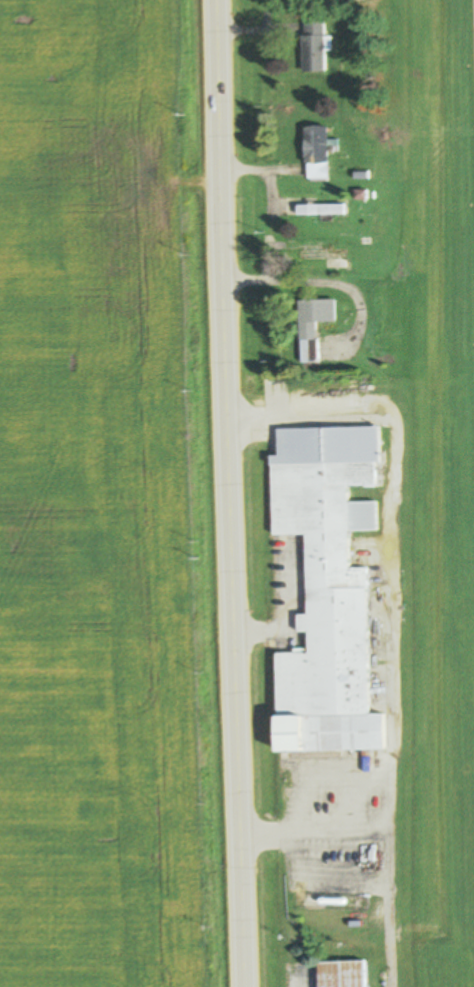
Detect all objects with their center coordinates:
road: (258, 30)
building: (314, 48)
building: (321, 151)
building: (323, 209)
building: (328, 256)
building: (314, 324)
road: (230, 493)
building: (326, 588)
road: (389, 612)
road: (281, 614)
building: (340, 973)
road: (298, 979)

